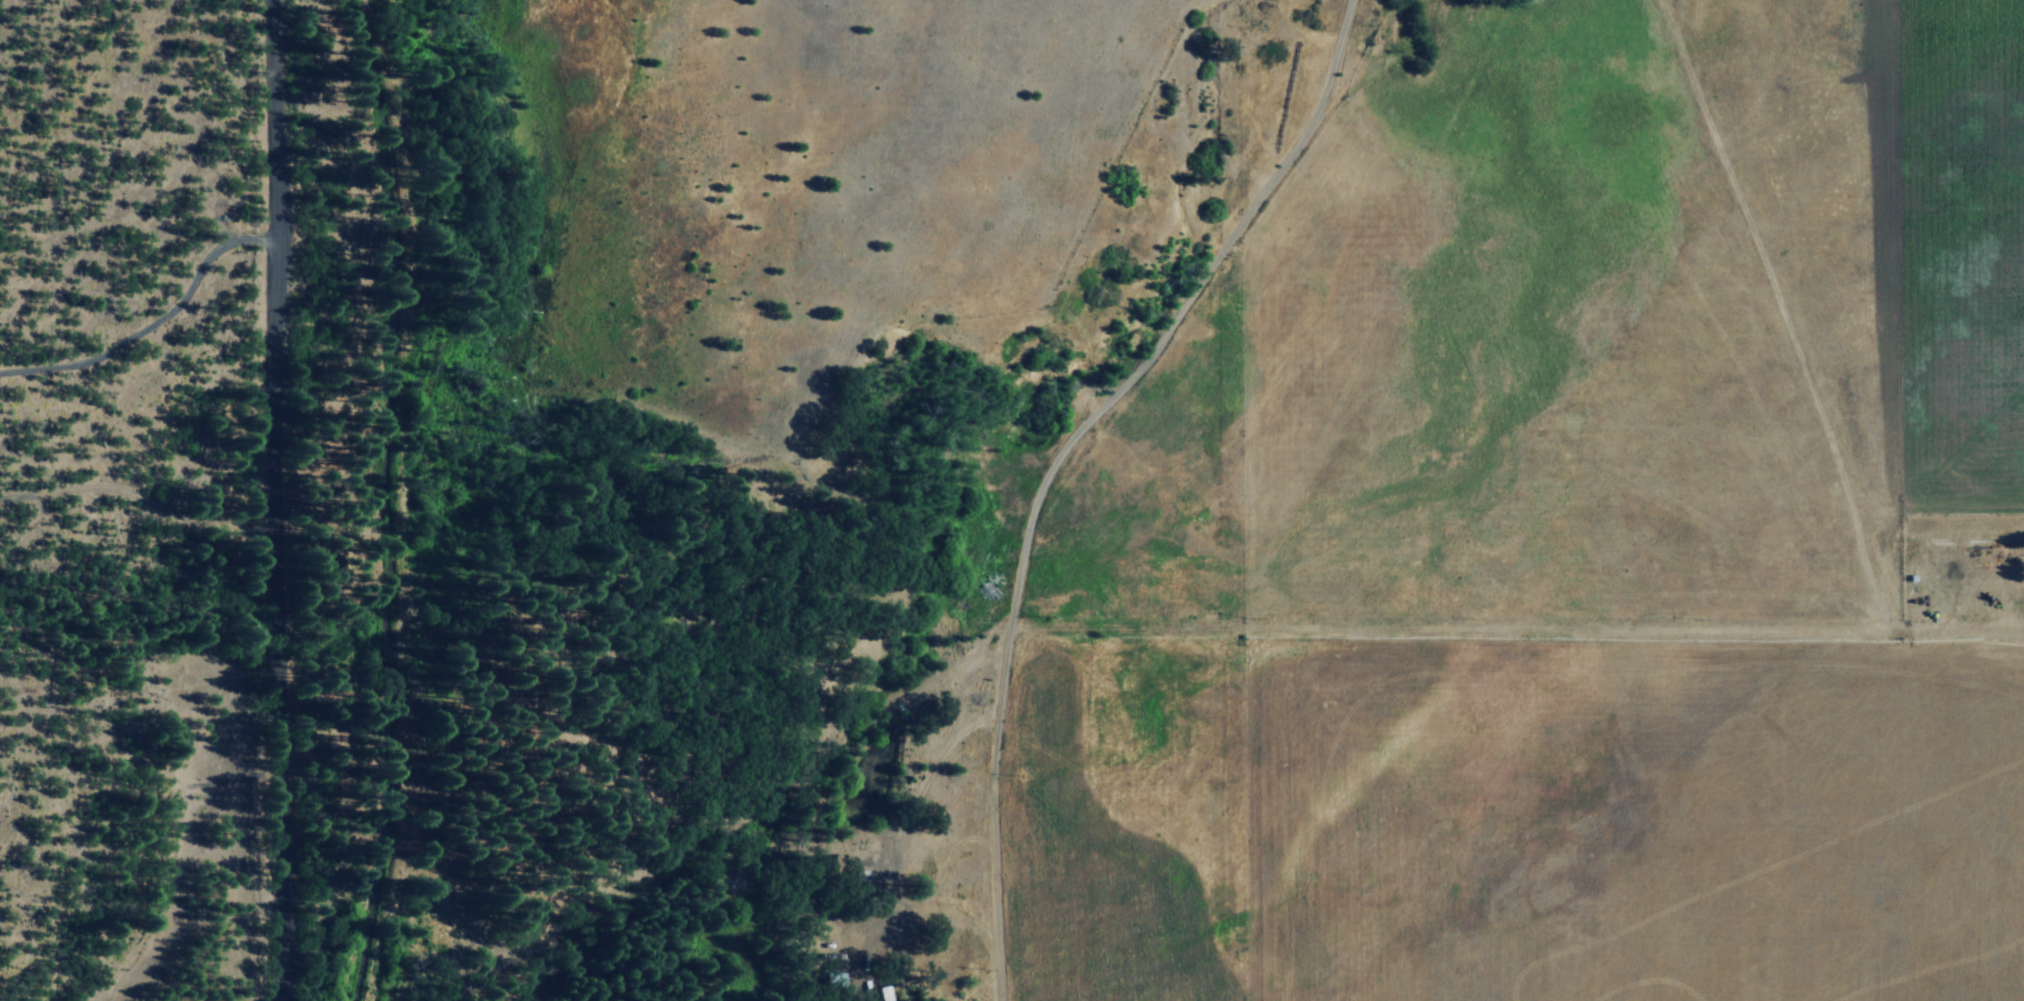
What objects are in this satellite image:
road: (1056, 459)
road: (137, 497)
road: (272, 500)
building: (882, 993)

